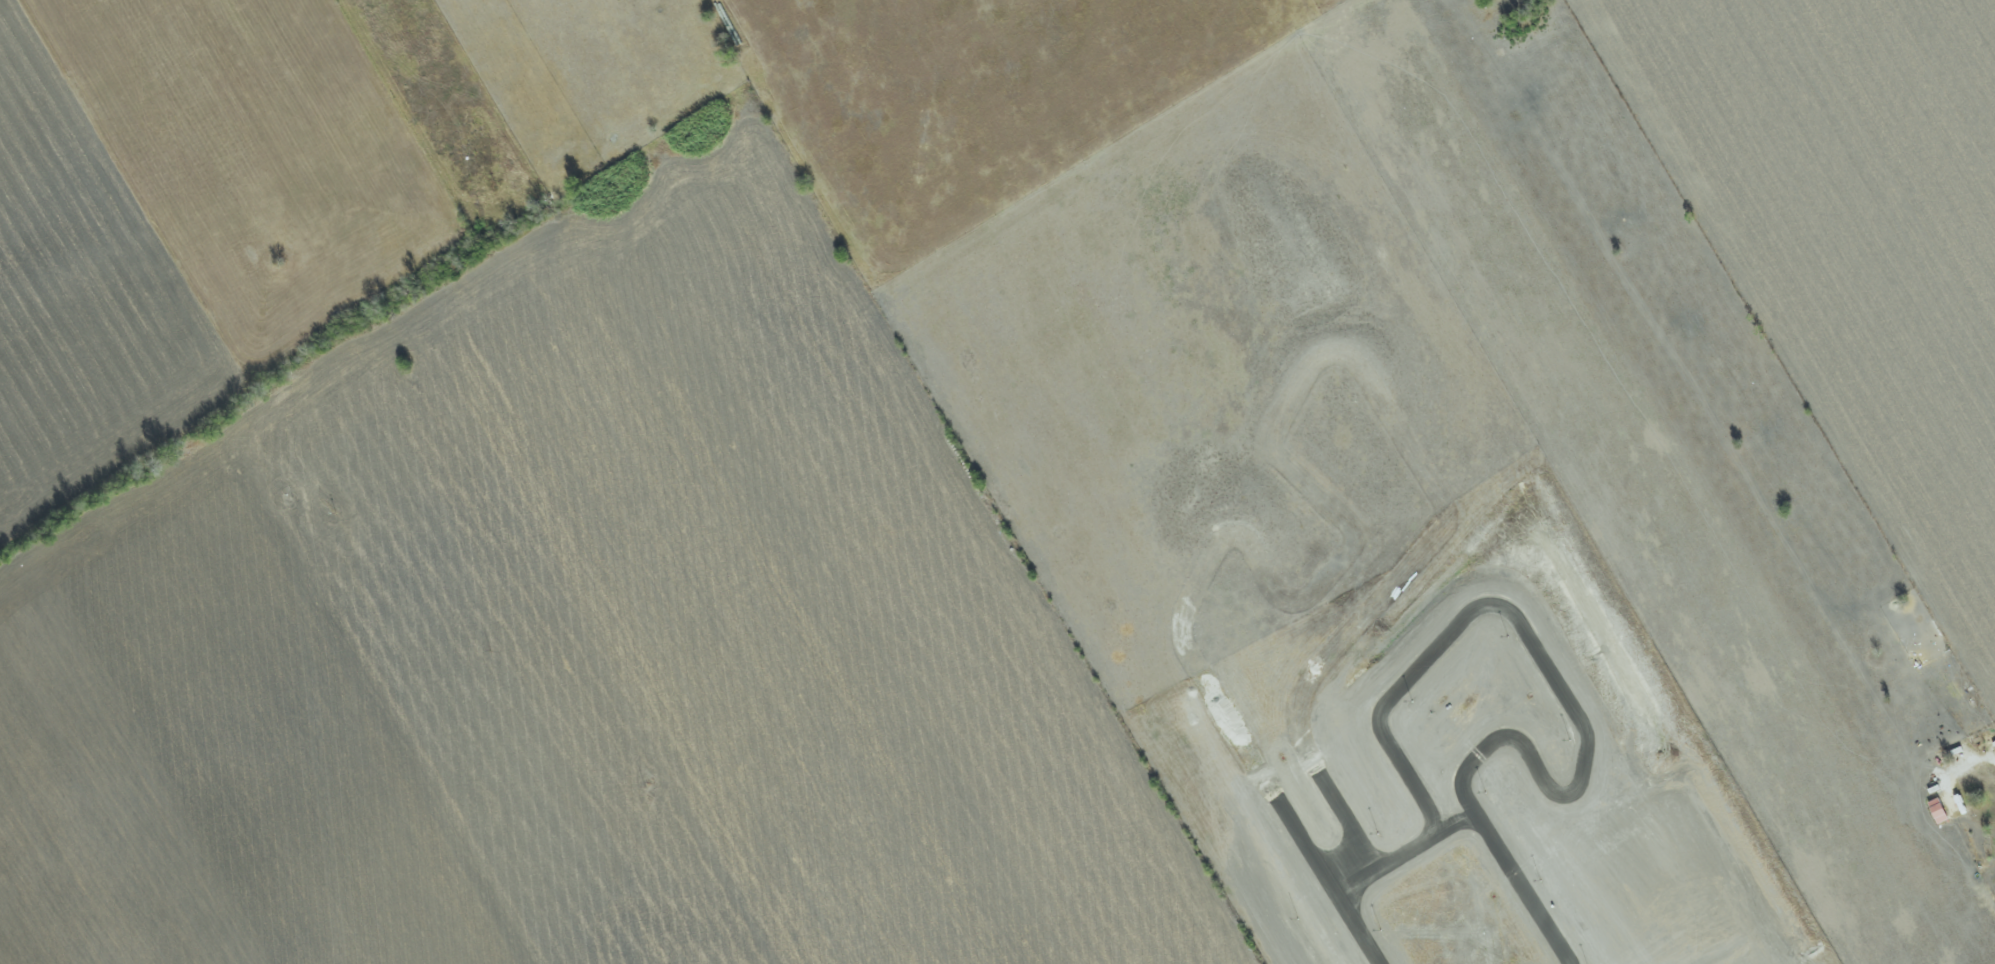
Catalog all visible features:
road: (1957, 766)

